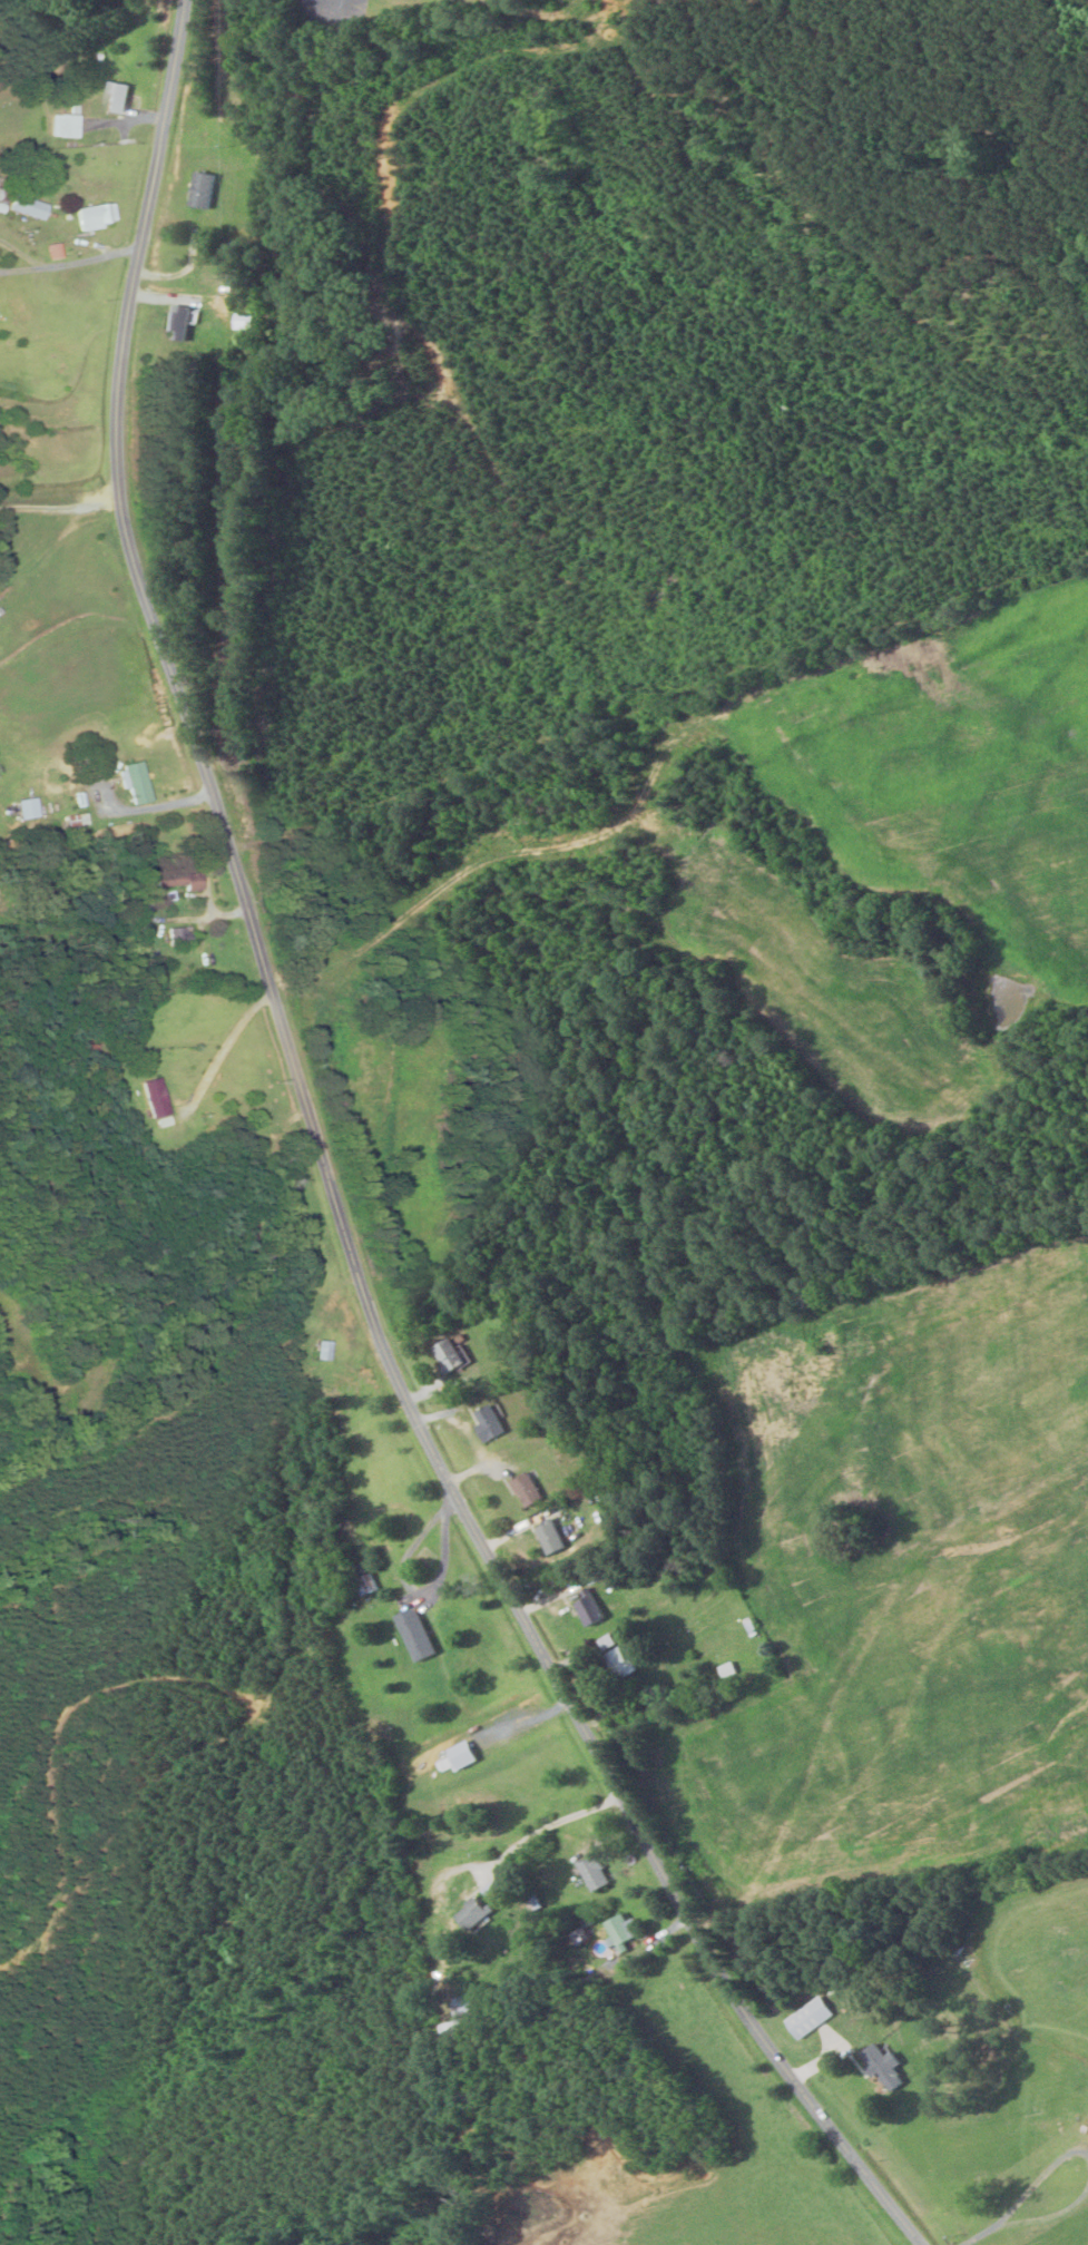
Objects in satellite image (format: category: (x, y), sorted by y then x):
building: (122, 97)
building: (68, 124)
building: (205, 188)
building: (32, 206)
building: (100, 215)
building: (187, 315)
building: (141, 782)
building: (33, 807)
building: (296, 871)
building: (186, 880)
building: (186, 934)
building: (166, 1097)
road: (333, 1180)
building: (329, 1350)
building: (453, 1355)
building: (496, 1422)
building: (535, 1490)
building: (558, 1538)
building: (595, 1608)
building: (423, 1635)
building: (629, 1661)
building: (467, 1755)
building: (595, 1872)
building: (472, 1913)
building: (624, 1932)
building: (813, 2017)
building: (452, 2019)
building: (888, 2066)
road: (1039, 2185)
road: (1051, 2224)
road: (986, 2239)

